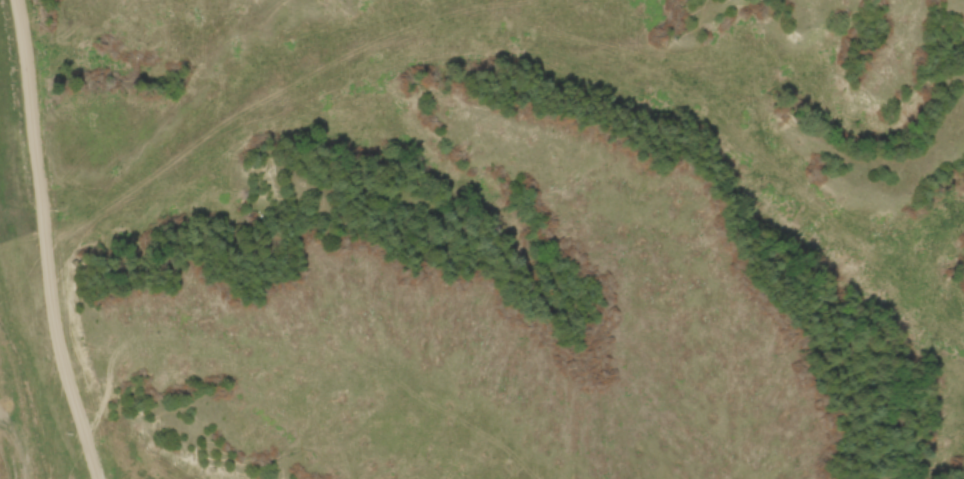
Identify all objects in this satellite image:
road: (47, 241)

